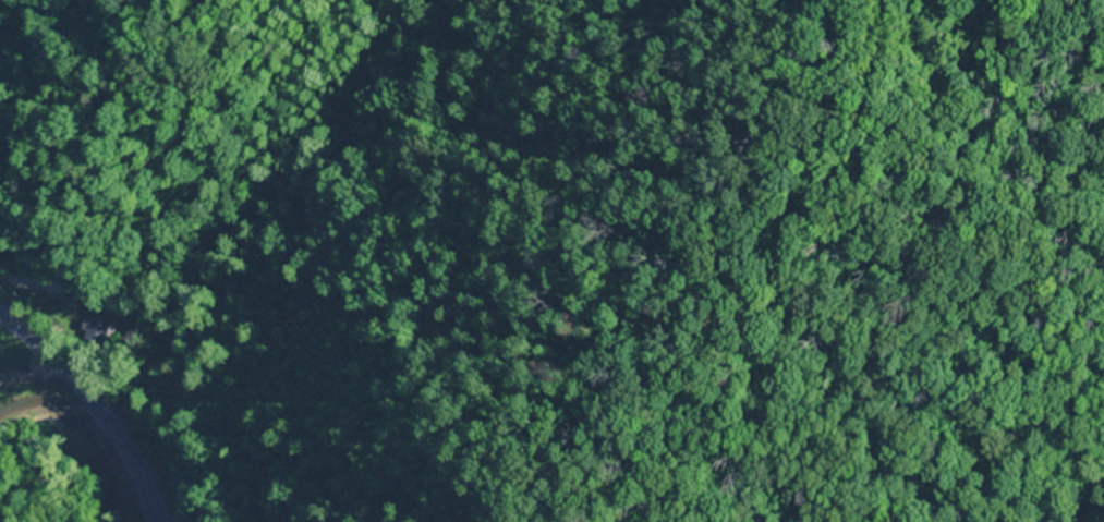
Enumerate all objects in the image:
road: (92, 410)

